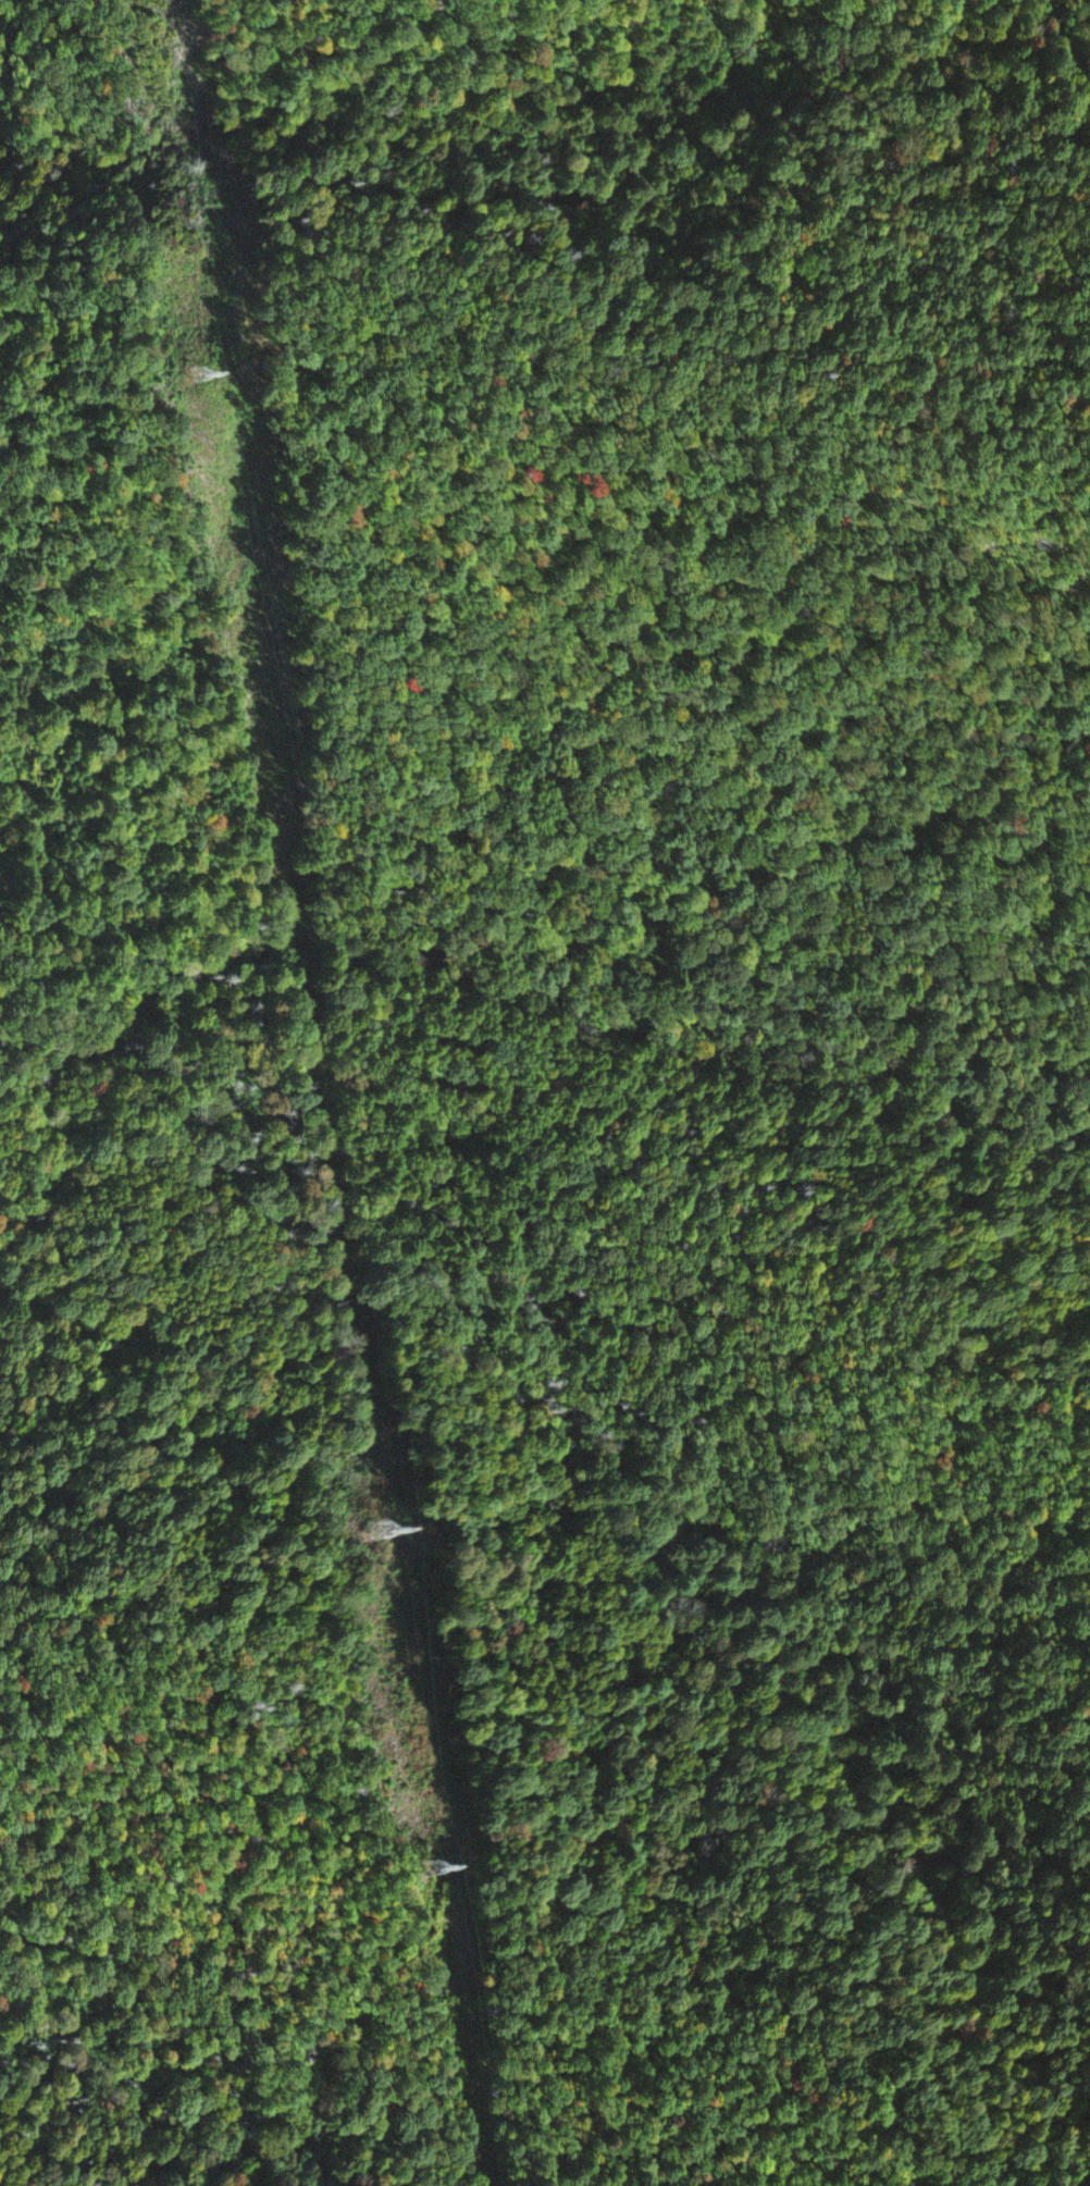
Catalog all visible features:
power tower: (198, 372)
power tower: (381, 1528)
power tower: (433, 1864)

